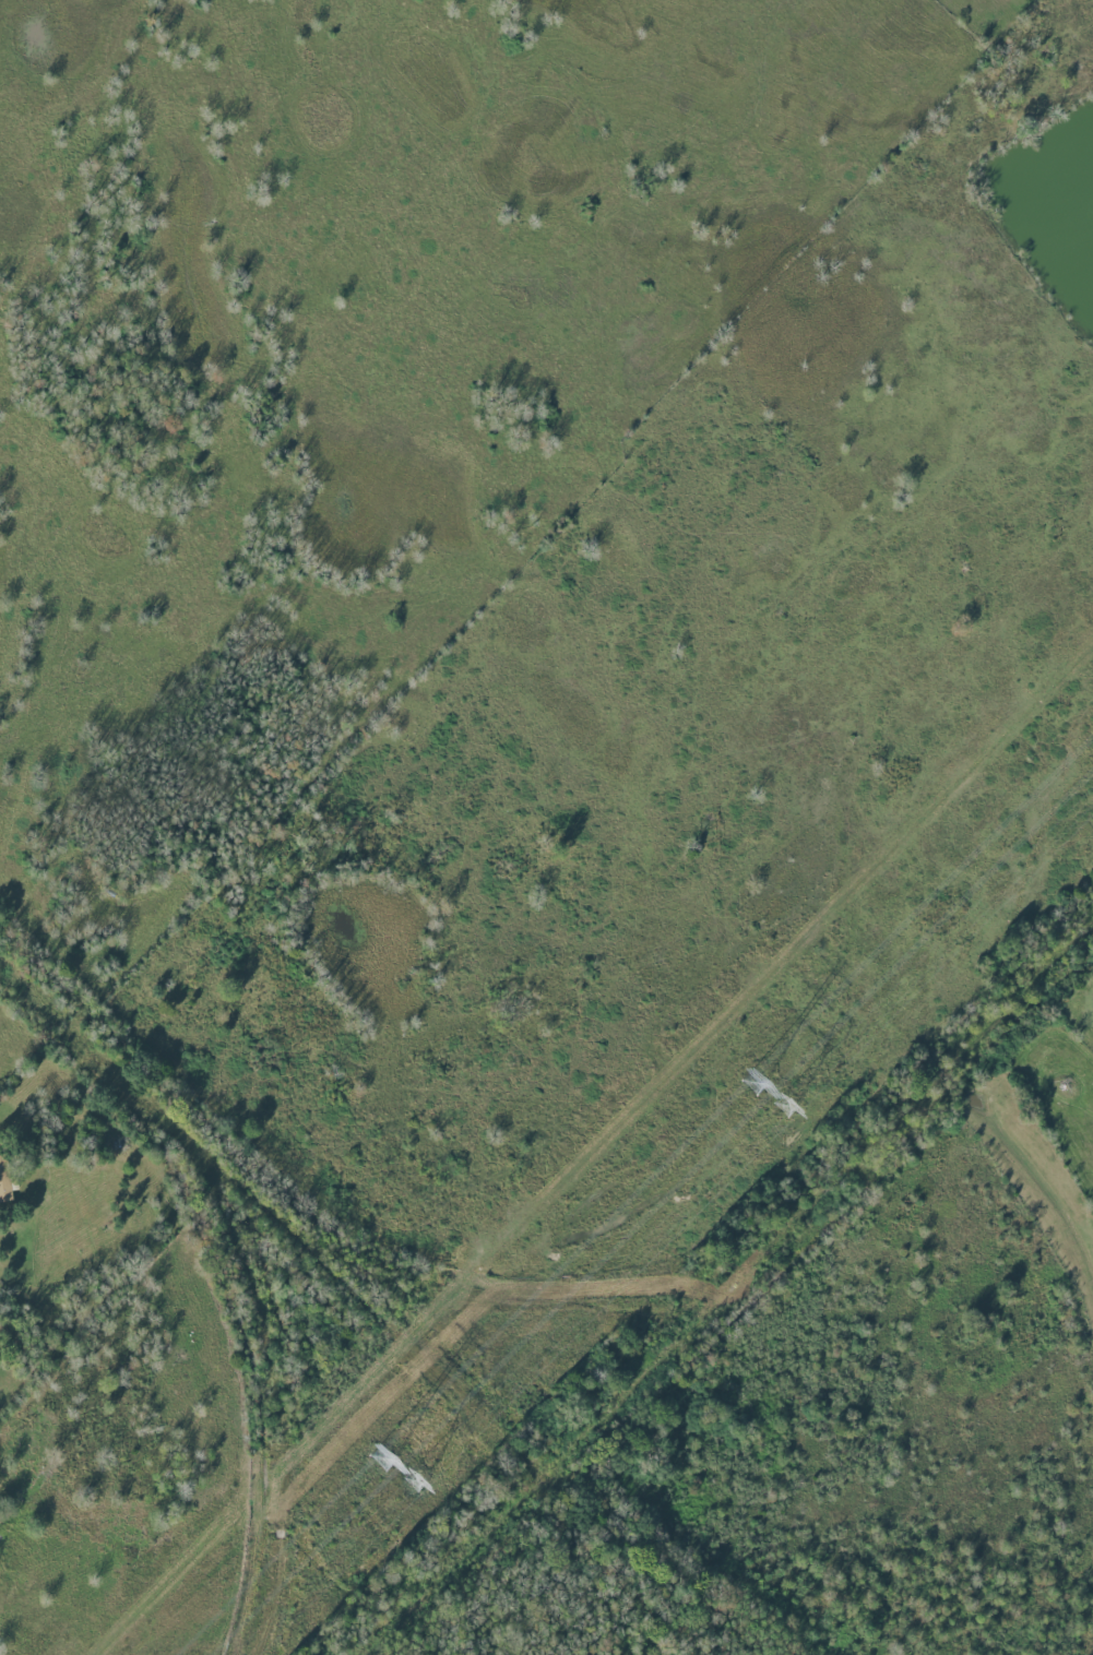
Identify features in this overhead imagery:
power tower: (751, 1085)
power tower: (785, 1107)
building: (3, 1178)
railway: (730, 1274)
railway: (272, 1385)
power tower: (383, 1461)
power tower: (414, 1483)

